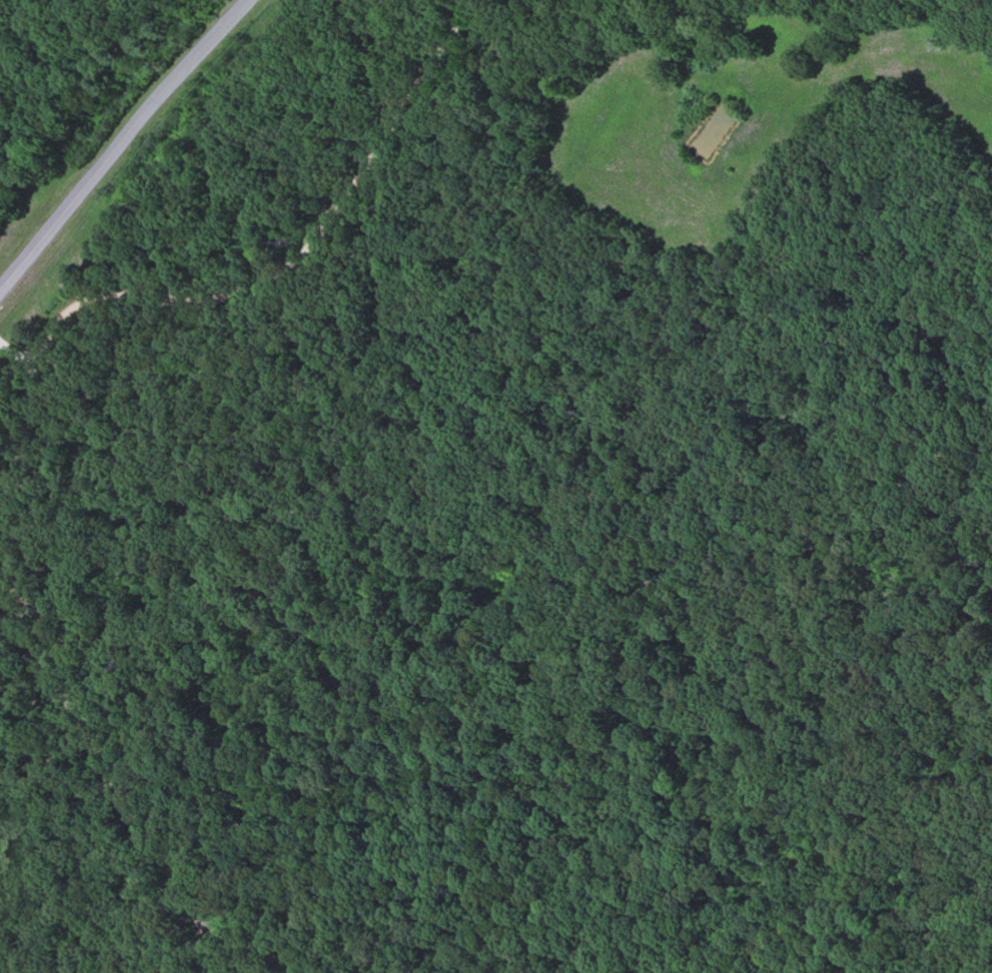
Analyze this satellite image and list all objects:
road: (125, 145)
road: (19, 357)
road: (33, 388)

